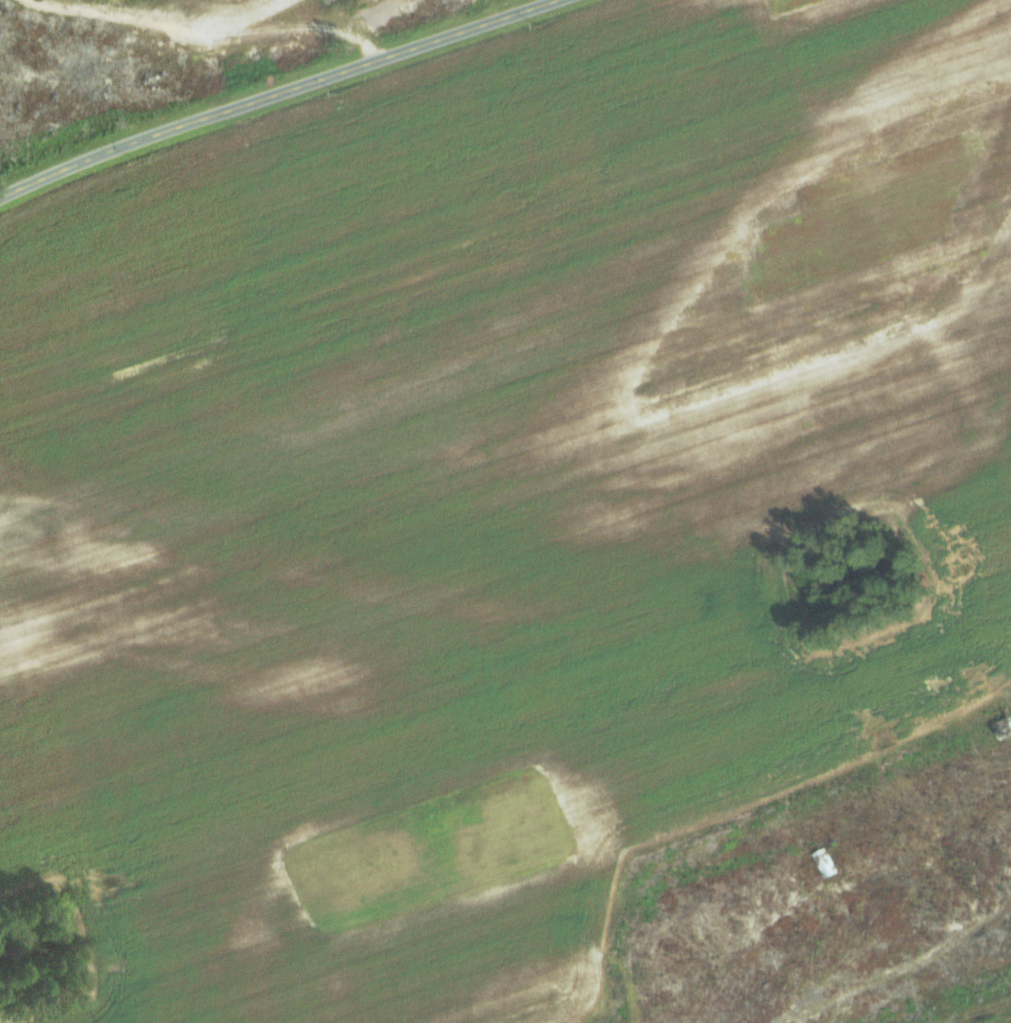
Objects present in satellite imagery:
road: (276, 94)

